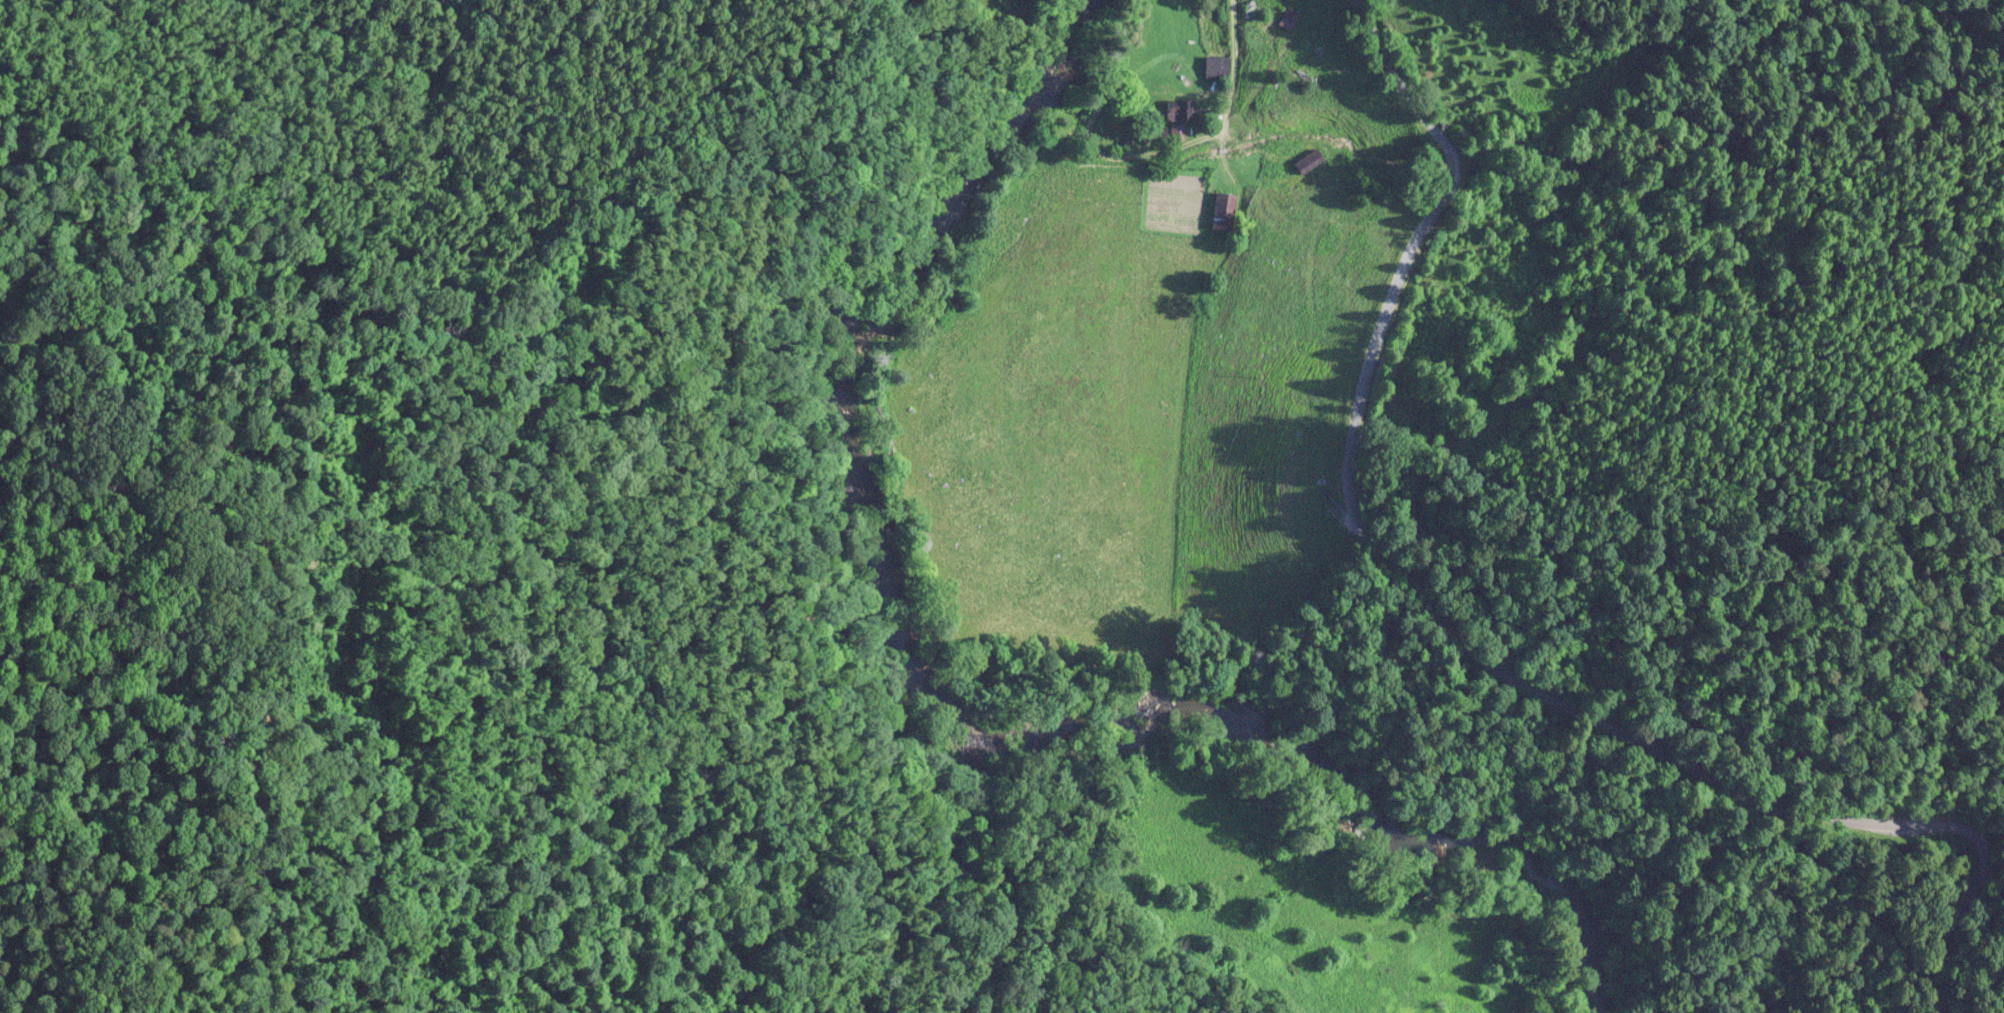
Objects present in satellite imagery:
building: (1287, 16)
road: (1218, 49)
building: (1215, 65)
building: (1179, 109)
building: (1307, 159)
building: (1222, 210)
road: (1493, 616)
road: (1427, 618)

